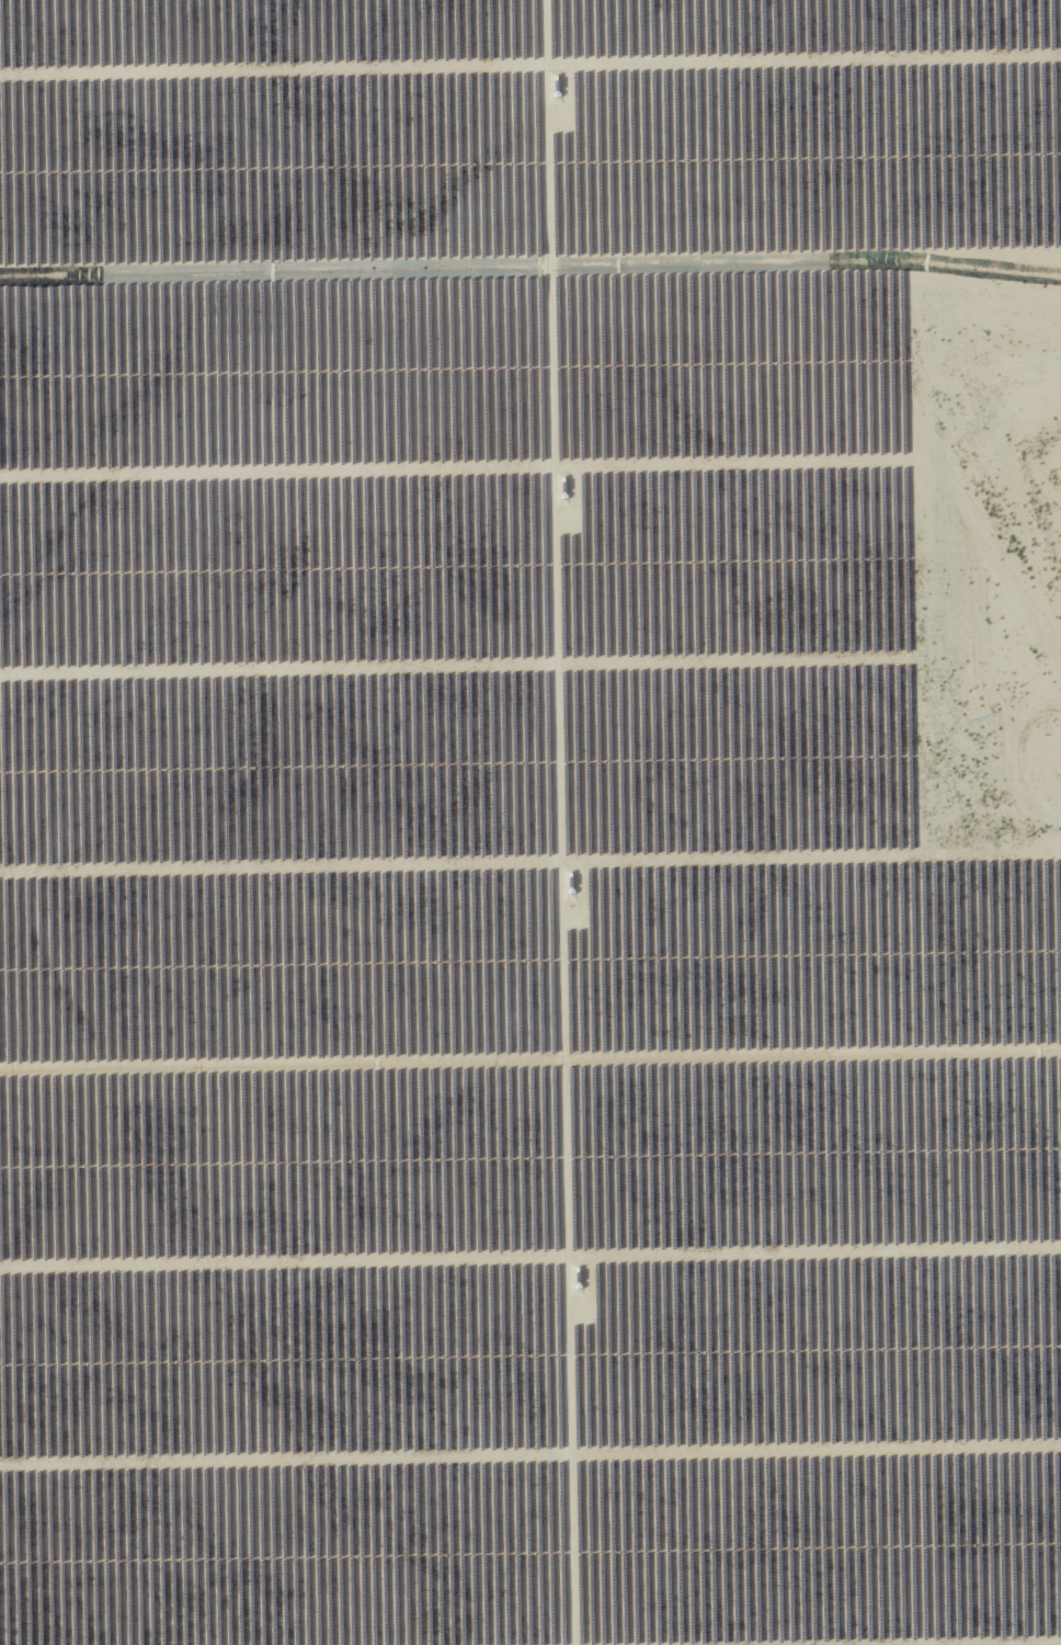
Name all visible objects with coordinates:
road: (649, 4)

